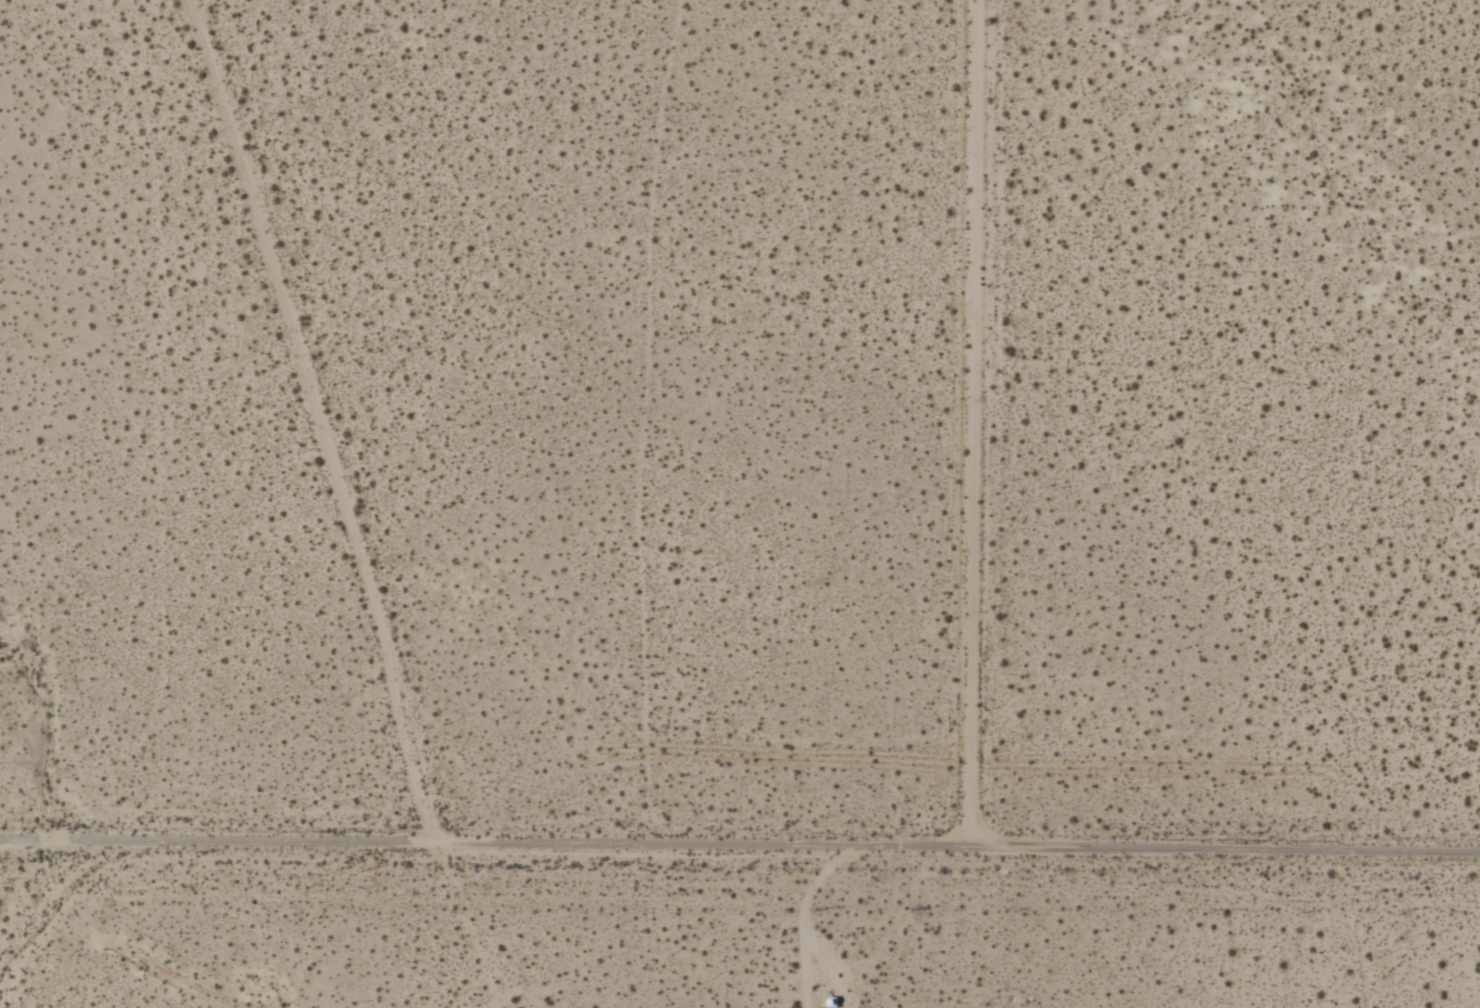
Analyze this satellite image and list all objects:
road: (349, 503)
road: (739, 850)

